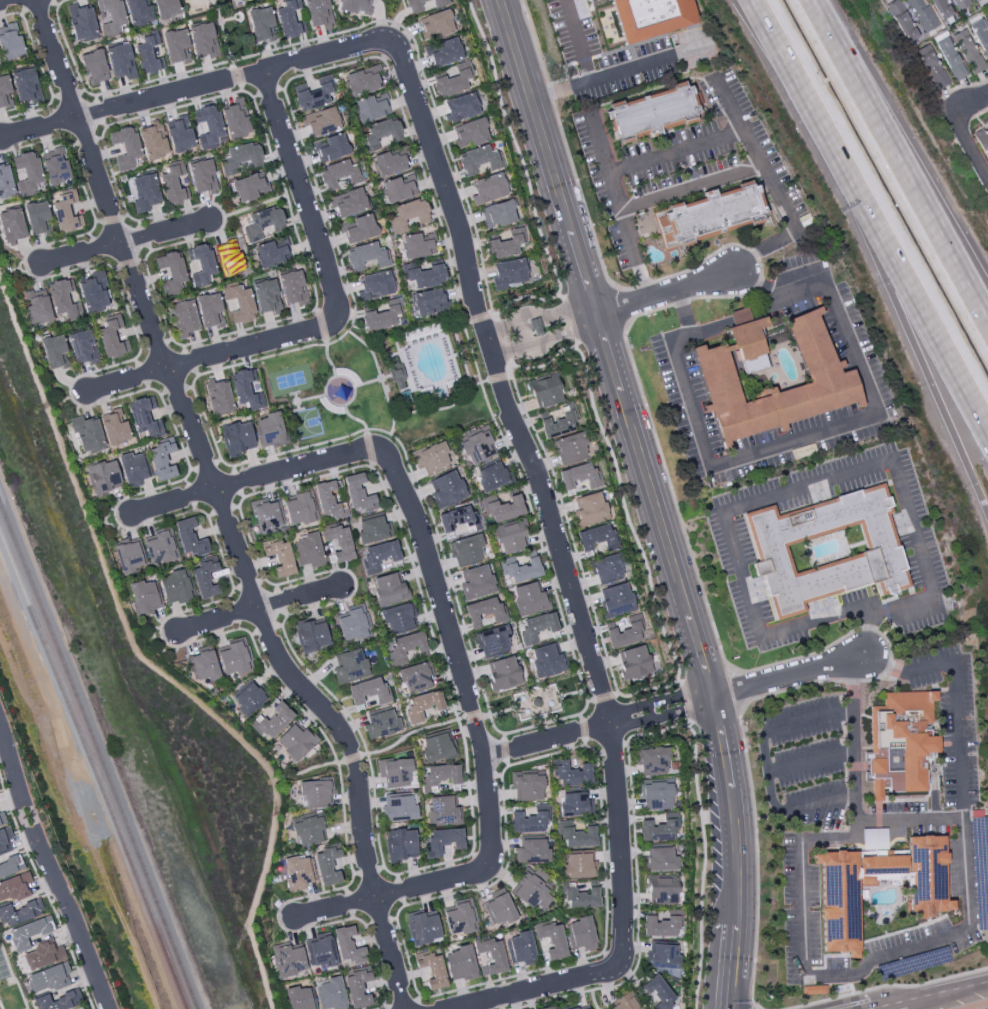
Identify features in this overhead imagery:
road: (3, 0)
building: (231, 0)
building: (440, 2)
building: (980, 2)
building: (958, 4)
building: (355, 6)
building: (414, 6)
building: (166, 8)
building: (941, 9)
building: (317, 11)
building: (138, 12)
building: (922, 14)
building: (110, 16)
building: (651, 17)
building: (289, 19)
building: (987, 19)
road: (226, 20)
road: (234, 20)
building: (901, 21)
building: (81, 23)
building: (261, 23)
building: (435, 25)
road: (222, 30)
building: (980, 34)
building: (203, 40)
road: (578, 41)
building: (10, 43)
road: (534, 43)
building: (175, 46)
building: (968, 51)
building: (445, 53)
building: (147, 54)
building: (949, 56)
building: (120, 61)
road: (792, 65)
building: (94, 66)
building: (931, 67)
road: (43, 73)
road: (614, 75)
road: (236, 76)
building: (363, 81)
building: (452, 83)
building: (25, 85)
road: (968, 85)
road: (193, 88)
road: (280, 89)
building: (4, 92)
road: (267, 92)
building: (314, 95)
road: (550, 95)
road: (256, 97)
road: (973, 100)
building: (461, 107)
building: (369, 108)
building: (654, 111)
road: (981, 113)
building: (234, 120)
building: (320, 121)
building: (208, 127)
building: (470, 132)
building: (380, 133)
building: (179, 135)
building: (982, 140)
building: (152, 143)
road: (967, 145)
road: (447, 146)
building: (125, 147)
building: (330, 148)
road: (676, 151)
building: (240, 158)
road: (901, 158)
building: (479, 160)
building: (387, 164)
building: (55, 167)
building: (27, 172)
building: (339, 174)
building: (201, 177)
building: (5, 181)
building: (173, 185)
building: (249, 187)
road: (691, 187)
road: (774, 187)
building: (488, 188)
building: (397, 190)
building: (144, 192)
road: (302, 193)
building: (348, 203)
road: (584, 207)
road: (620, 207)
road: (937, 209)
building: (66, 212)
building: (498, 214)
building: (408, 215)
building: (710, 216)
building: (37, 217)
building: (262, 223)
building: (12, 225)
building: (360, 229)
road: (122, 242)
building: (506, 245)
building: (415, 246)
building: (270, 254)
road: (753, 254)
building: (366, 256)
building: (229, 258)
road: (702, 262)
building: (199, 263)
road: (761, 269)
building: (170, 272)
traffic signals: (735, 272)
road: (147, 274)
building: (508, 274)
building: (423, 275)
road: (907, 277)
road: (758, 283)
building: (374, 285)
road: (644, 285)
building: (293, 288)
building: (93, 292)
road: (666, 292)
building: (267, 296)
road: (560, 297)
road: (722, 297)
building: (64, 299)
building: (427, 302)
road: (680, 302)
building: (239, 303)
road: (625, 305)
building: (36, 307)
building: (209, 310)
building: (381, 316)
road: (538, 317)
building: (183, 318)
road: (477, 318)
road: (739, 318)
road: (570, 320)
road: (907, 322)
road: (319, 327)
road: (523, 334)
building: (111, 337)
road: (500, 338)
road: (546, 339)
road: (576, 345)
building: (82, 347)
road: (369, 350)
building: (54, 351)
road: (211, 356)
road: (327, 361)
road: (509, 364)
road: (514, 367)
road: (500, 377)
building: (832, 379)
park: (290, 380)
building: (398, 380)
road: (327, 381)
road: (485, 381)
building: (246, 388)
building: (546, 392)
building: (218, 396)
road: (310, 398)
road: (296, 402)
road: (407, 414)
building: (144, 417)
road: (354, 419)
park: (308, 423)
building: (558, 424)
road: (392, 426)
building: (114, 427)
building: (270, 430)
road: (813, 433)
building: (87, 434)
building: (237, 438)
building: (476, 447)
building: (570, 448)
road: (368, 449)
road: (217, 453)
building: (431, 458)
building: (162, 460)
building: (132, 469)
road: (258, 476)
building: (490, 476)
building: (579, 476)
building: (103, 477)
road: (803, 488)
building: (446, 489)
building: (357, 493)
road: (543, 493)
road: (654, 497)
building: (327, 499)
building: (502, 507)
road: (222, 508)
building: (590, 508)
building: (300, 509)
road: (170, 516)
building: (265, 516)
building: (458, 519)
building: (372, 530)
building: (510, 537)
building: (596, 537)
building: (190, 538)
road: (686, 538)
building: (338, 541)
building: (160, 548)
building: (308, 551)
building: (466, 551)
building: (880, 553)
building: (378, 556)
building: (129, 557)
building: (279, 557)
building: (520, 568)
building: (607, 568)
building: (206, 579)
building: (476, 582)
building: (175, 587)
building: (388, 588)
building: (145, 597)
building: (529, 599)
building: (617, 600)
road: (260, 610)
building: (484, 612)
building: (399, 619)
building: (353, 624)
building: (537, 627)
road: (866, 628)
building: (625, 632)
building: (310, 635)
building: (492, 641)
road: (887, 644)
building: (406, 646)
road: (458, 646)
building: (233, 657)
building: (547, 660)
road: (144, 662)
building: (634, 663)
building: (350, 664)
building: (203, 666)
road: (888, 667)
building: (503, 673)
road: (790, 676)
building: (415, 677)
road: (872, 680)
road: (852, 681)
road: (733, 690)
building: (368, 691)
road: (954, 695)
road: (602, 696)
building: (248, 699)
road: (536, 702)
road: (685, 702)
building: (422, 706)
road: (476, 716)
building: (271, 720)
building: (381, 724)
road: (598, 725)
road: (413, 732)
building: (295, 742)
road: (853, 742)
building: (436, 745)
building: (900, 745)
road: (587, 746)
road: (351, 757)
building: (652, 761)
railway: (97, 762)
road: (811, 762)
road: (766, 765)
road: (304, 772)
building: (395, 772)
building: (441, 774)
building: (571, 774)
railway: (92, 775)
building: (527, 786)
building: (315, 793)
building: (656, 795)
building: (575, 805)
road: (752, 805)
building: (399, 808)
building: (442, 811)
building: (2, 819)
building: (528, 822)
road: (69, 825)
building: (658, 830)
building: (308, 831)
building: (575, 834)
road: (65, 837)
road: (836, 838)
building: (442, 841)
building: (401, 844)
road: (634, 847)
building: (531, 851)
building: (8, 855)
building: (660, 859)
road: (704, 865)
building: (327, 866)
building: (577, 866)
road: (51, 869)
building: (298, 873)
building: (14, 887)
building: (662, 889)
road: (400, 890)
building: (531, 891)
building: (840, 894)
building: (581, 898)
building: (498, 910)
building: (19, 912)
building: (460, 918)
building: (660, 926)
building: (422, 928)
building: (28, 932)
building: (581, 934)
building: (551, 939)
building: (347, 945)
road: (922, 946)
building: (520, 948)
building: (320, 952)
building: (490, 955)
building: (42, 956)
building: (664, 957)
building: (287, 960)
building: (460, 963)
building: (432, 970)
building: (48, 978)
road: (889, 986)
road: (531, 987)
building: (357, 988)
building: (814, 990)
building: (659, 993)
building: (330, 994)
road: (943, 994)
building: (300, 998)
road: (419, 998)
road: (551, 999)
road: (592, 999)
building: (57, 1001)
road: (401, 1004)
building: (625, 1004)
street lamp: (756, 1004)
road: (384, 1007)
building: (548, 1007)
building: (570, 1007)
road: (891, 1007)
building: (583, 1008)

